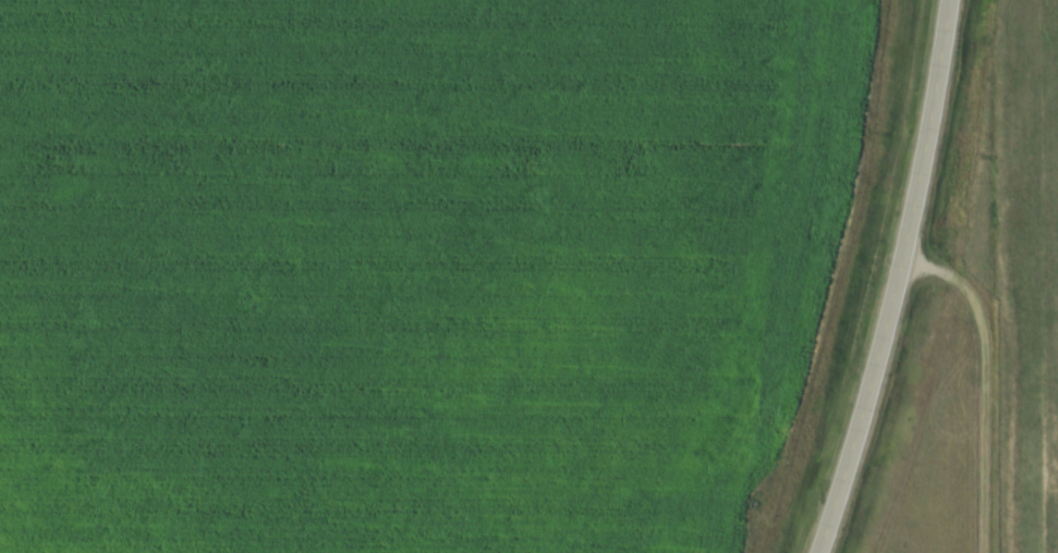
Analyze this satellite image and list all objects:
road: (888, 279)
road: (1002, 369)

